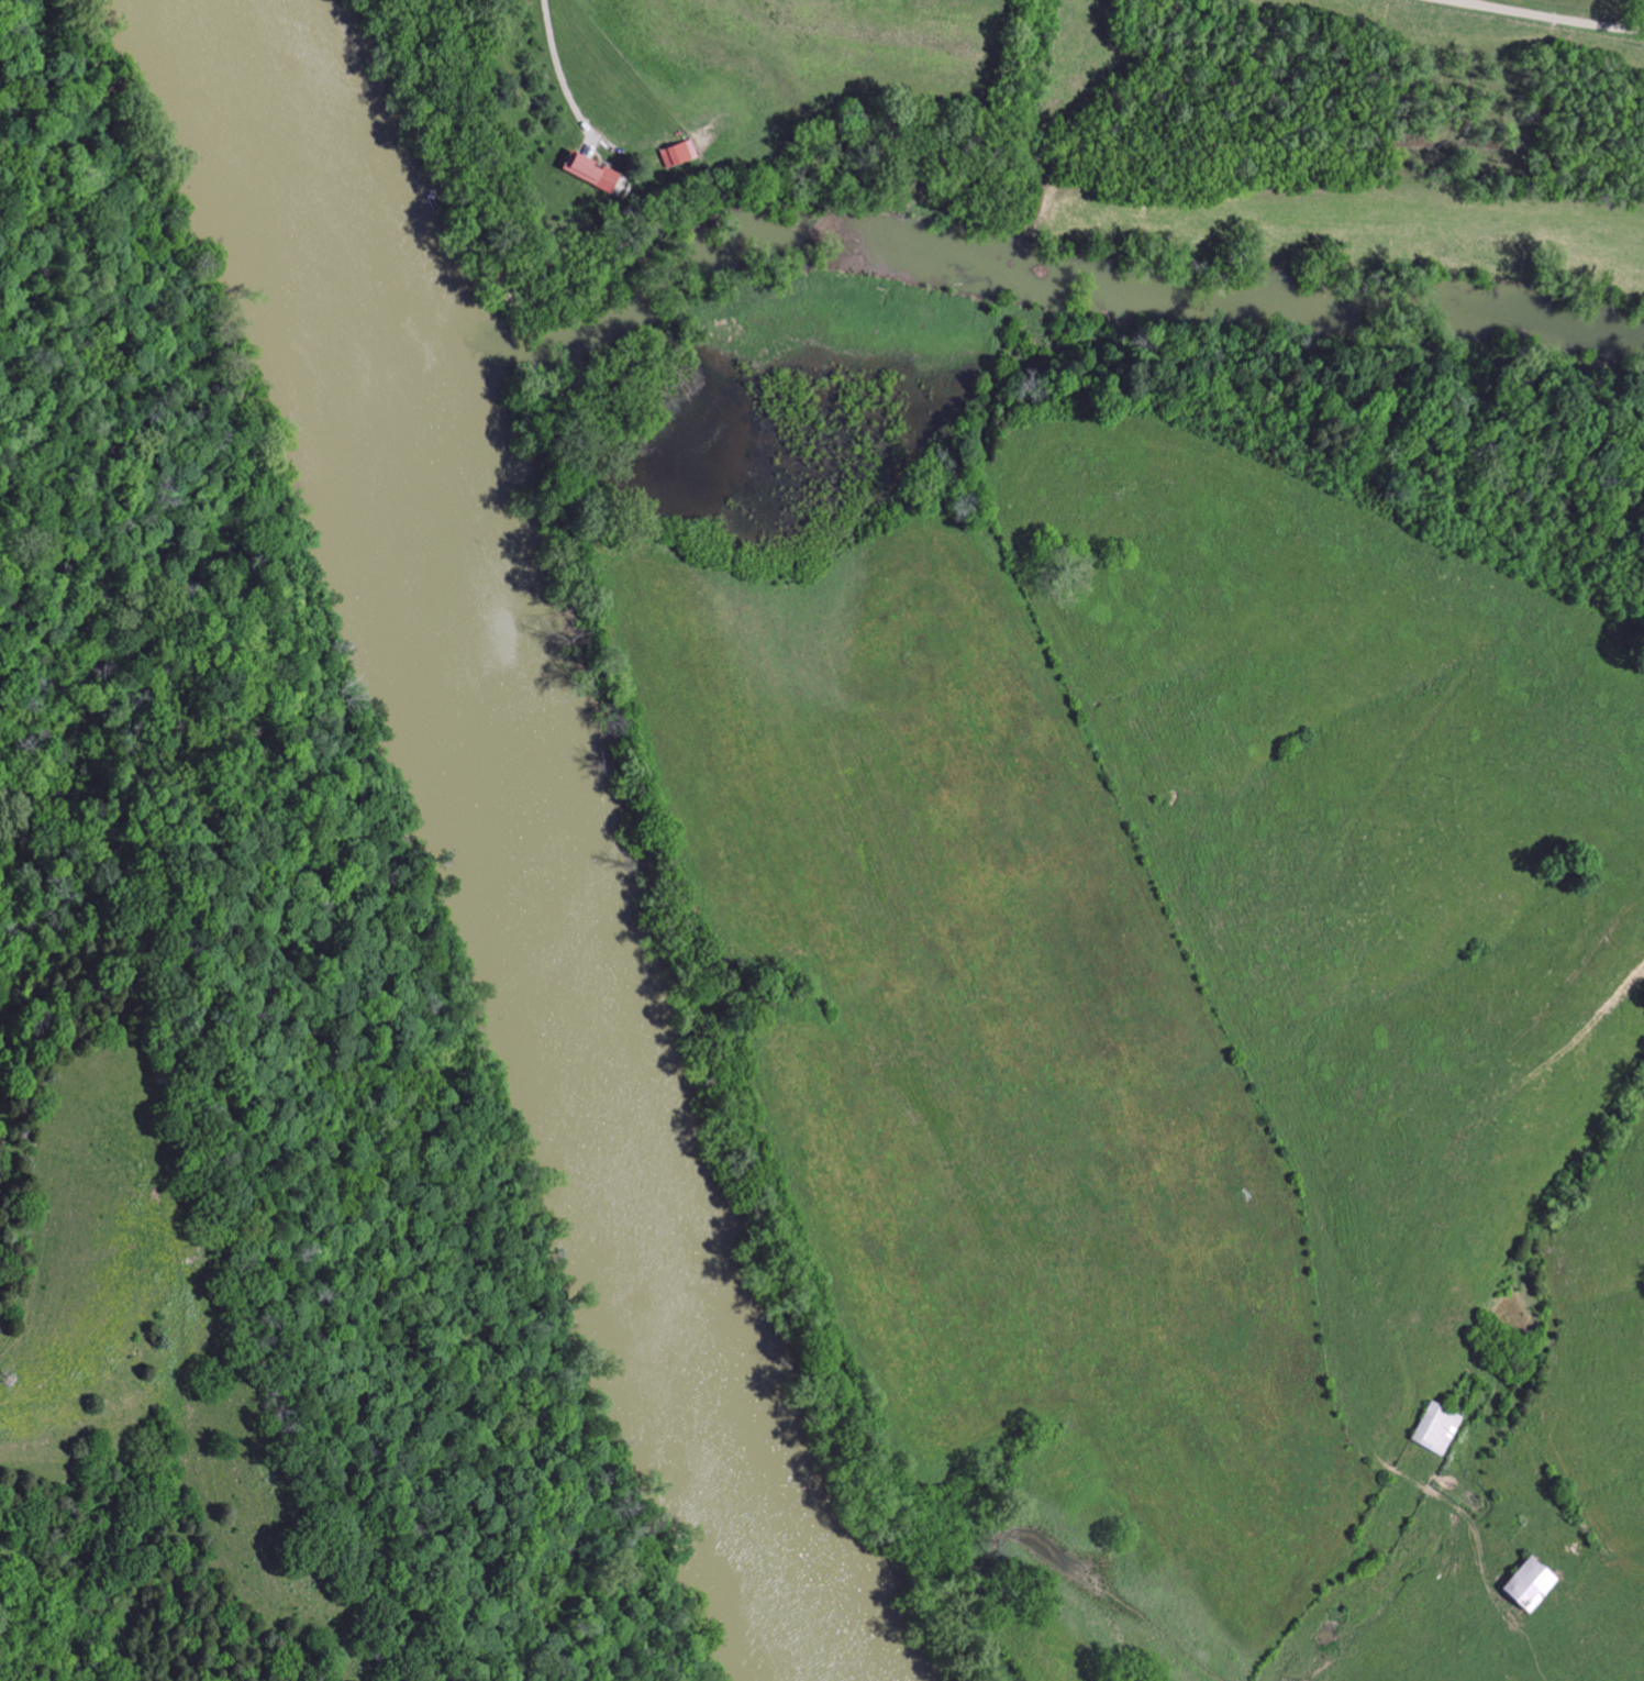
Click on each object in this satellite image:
road: (1444, 0)
road: (1540, 14)
road: (557, 64)
building: (677, 155)
building: (588, 174)
river: (957, 253)
road: (1173, 843)
river: (509, 848)
building: (1436, 1429)
building: (1530, 1585)

